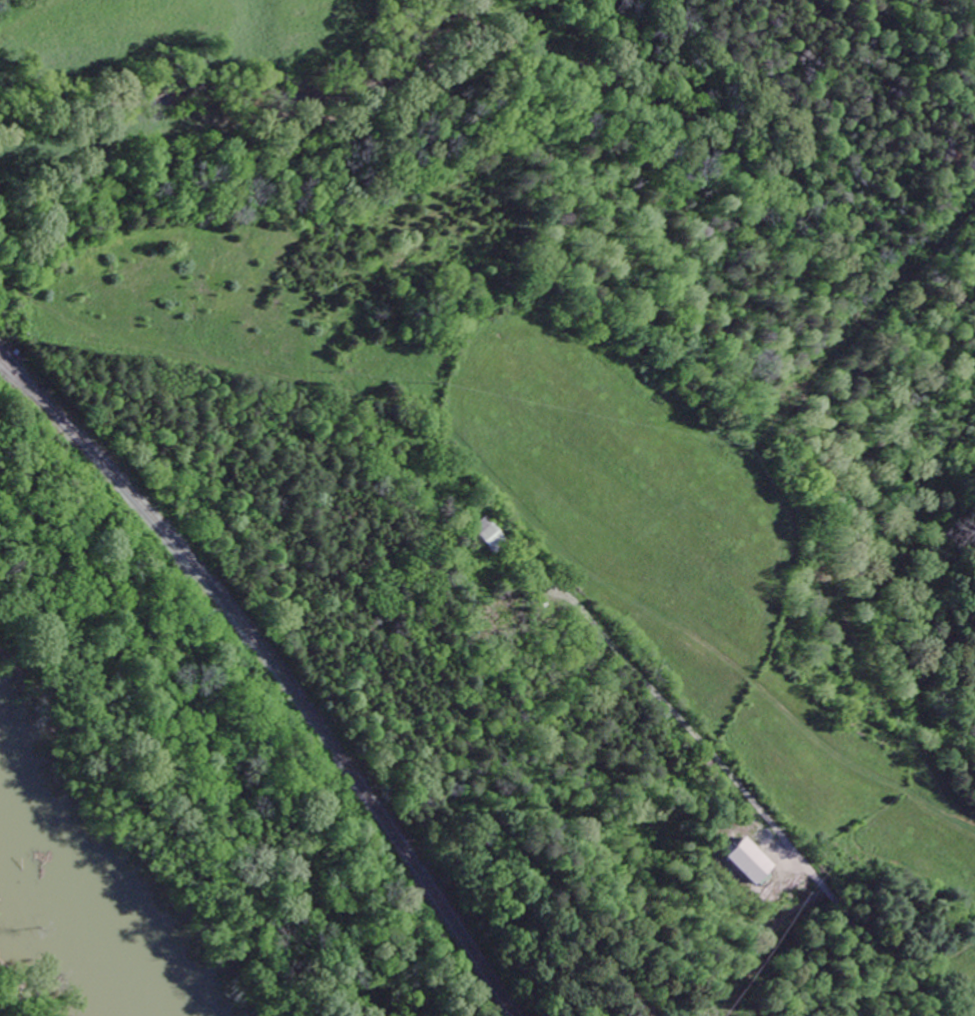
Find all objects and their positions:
road: (769, 595)
railway: (277, 673)
road: (754, 799)
building: (749, 863)
river: (90, 896)

